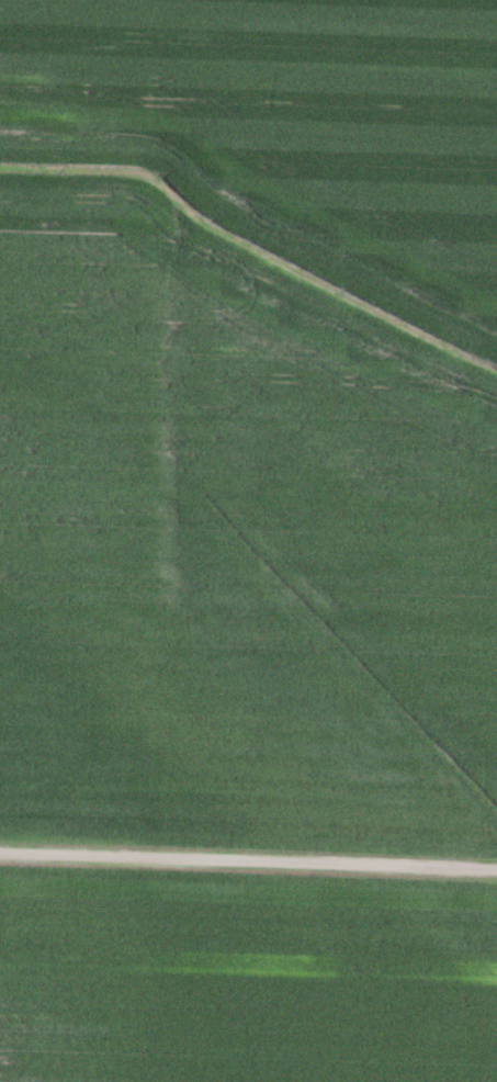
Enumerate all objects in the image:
road: (248, 854)

